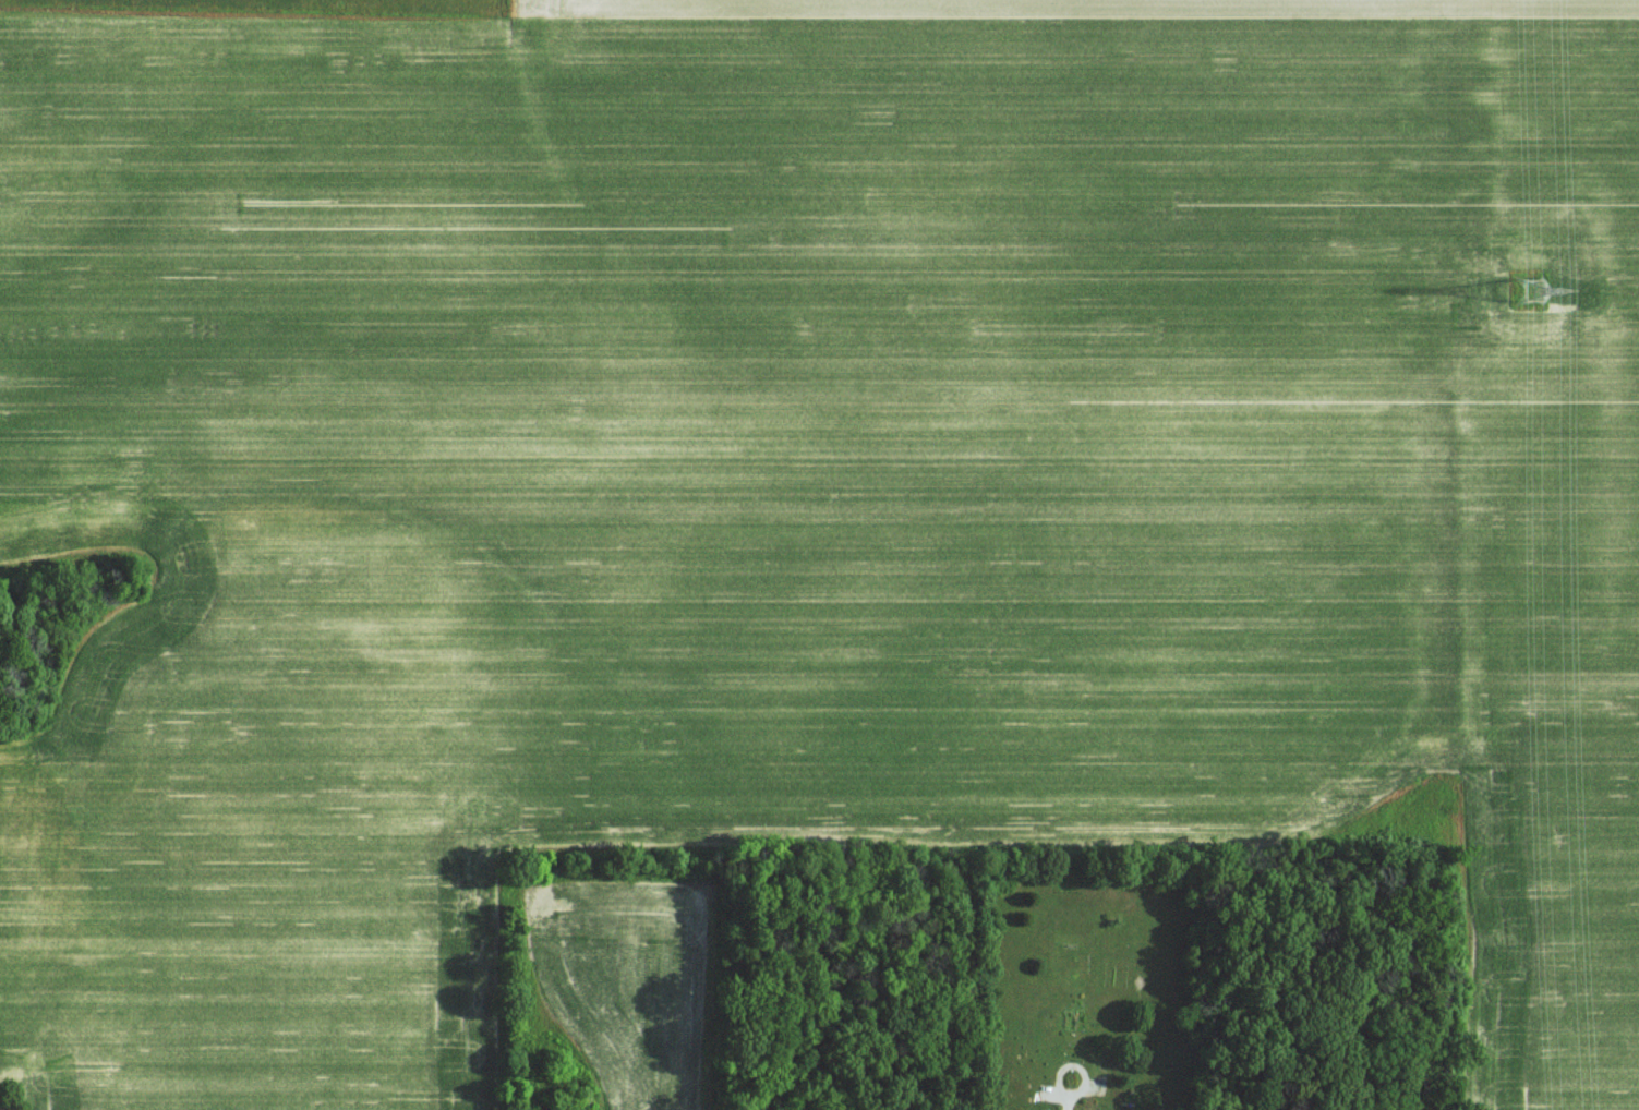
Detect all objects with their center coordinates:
power tower: (1535, 292)
building: (1039, 1108)
road: (1062, 1108)

